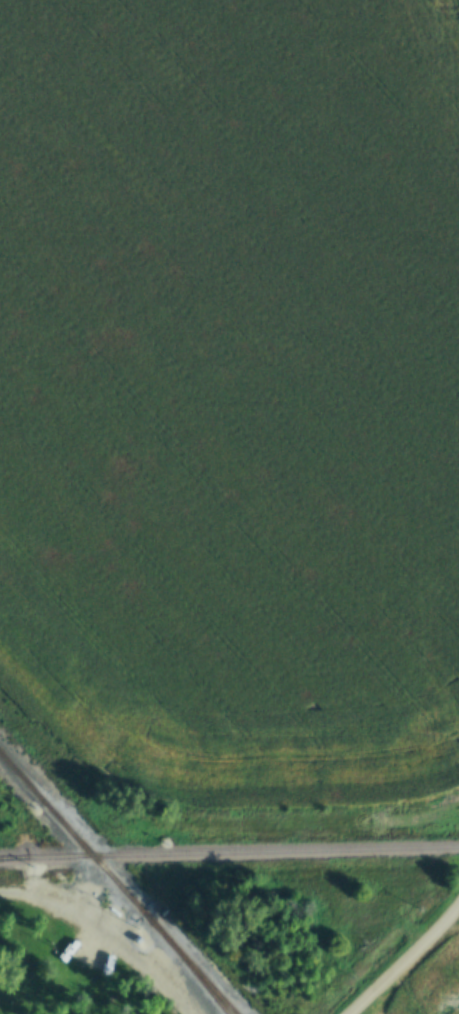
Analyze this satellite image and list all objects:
railway: (229, 852)
railway: (8, 858)
railway: (117, 883)
road: (105, 935)
road: (403, 959)
railway: (187, 966)

